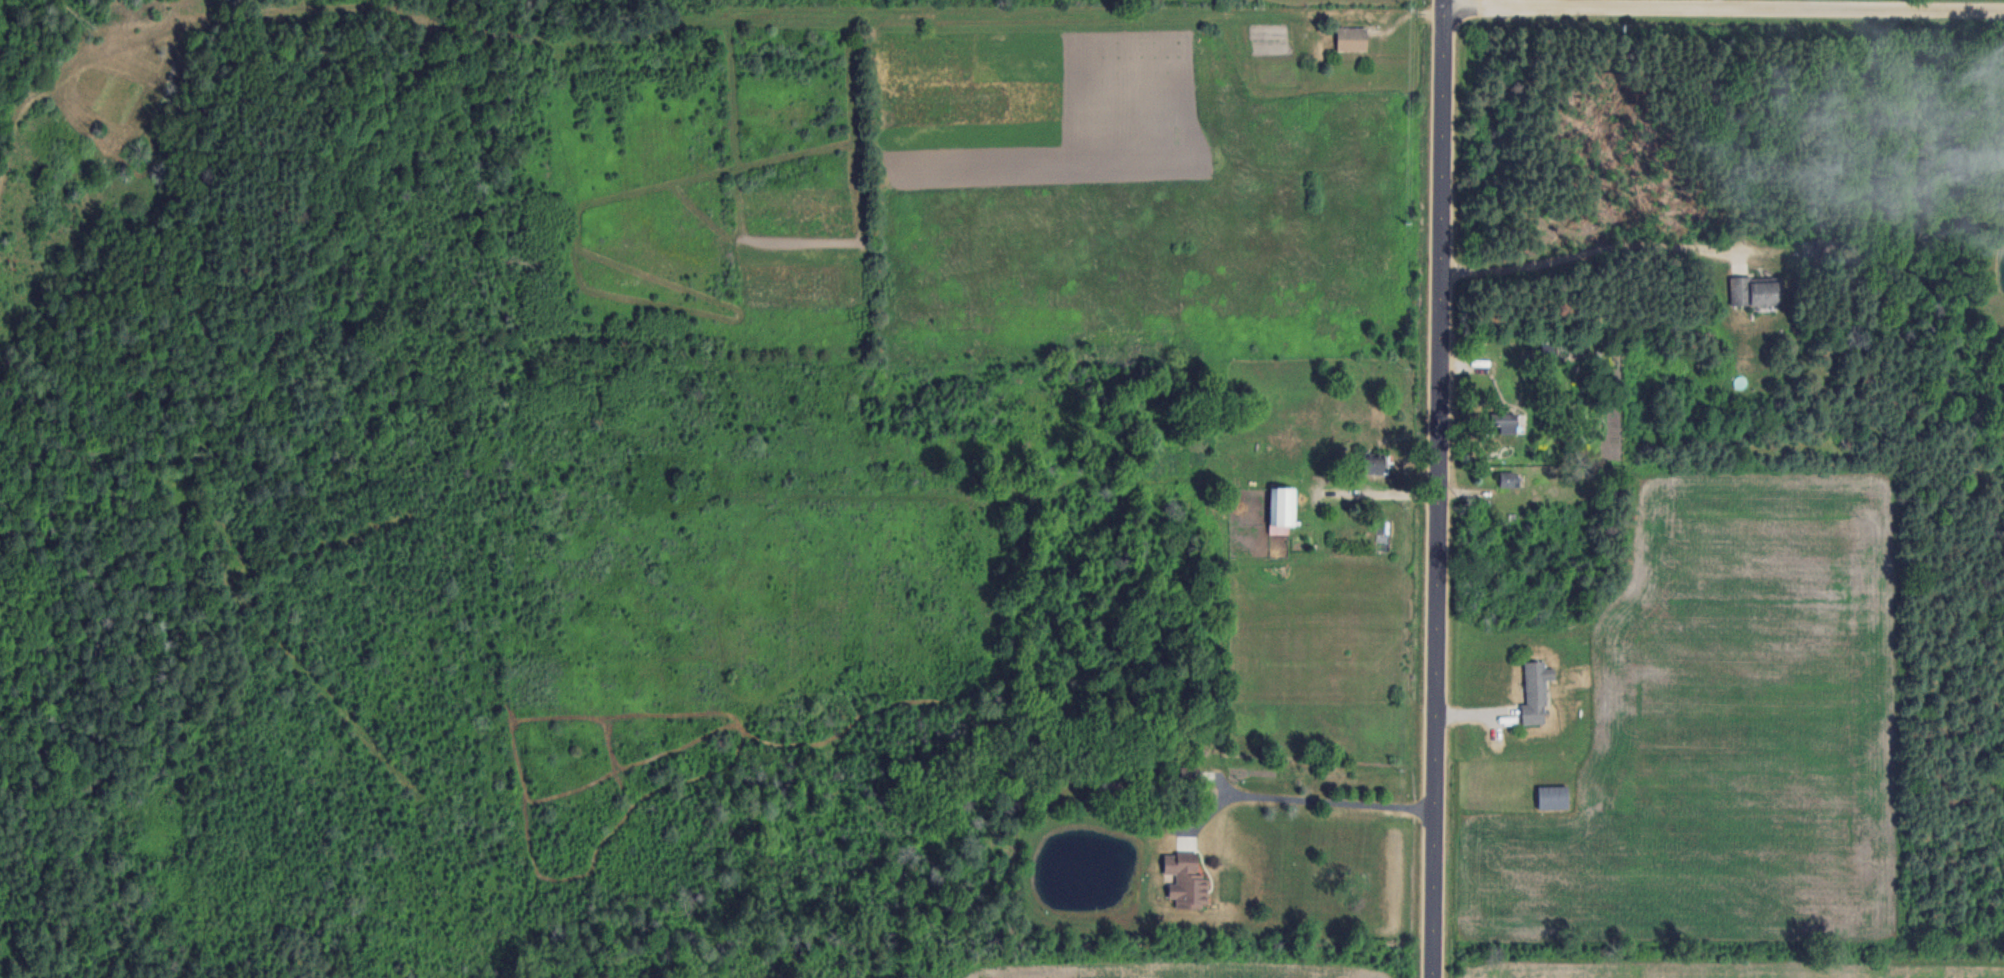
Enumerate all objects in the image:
road: (1724, 8)
building: (1352, 37)
road: (1594, 249)
building: (1755, 290)
building: (1504, 420)
building: (1375, 463)
building: (1510, 478)
road: (1438, 488)
road: (1374, 492)
building: (1282, 505)
building: (1535, 691)
building: (1189, 775)
building: (1552, 797)
road: (1303, 798)
building: (1185, 878)

